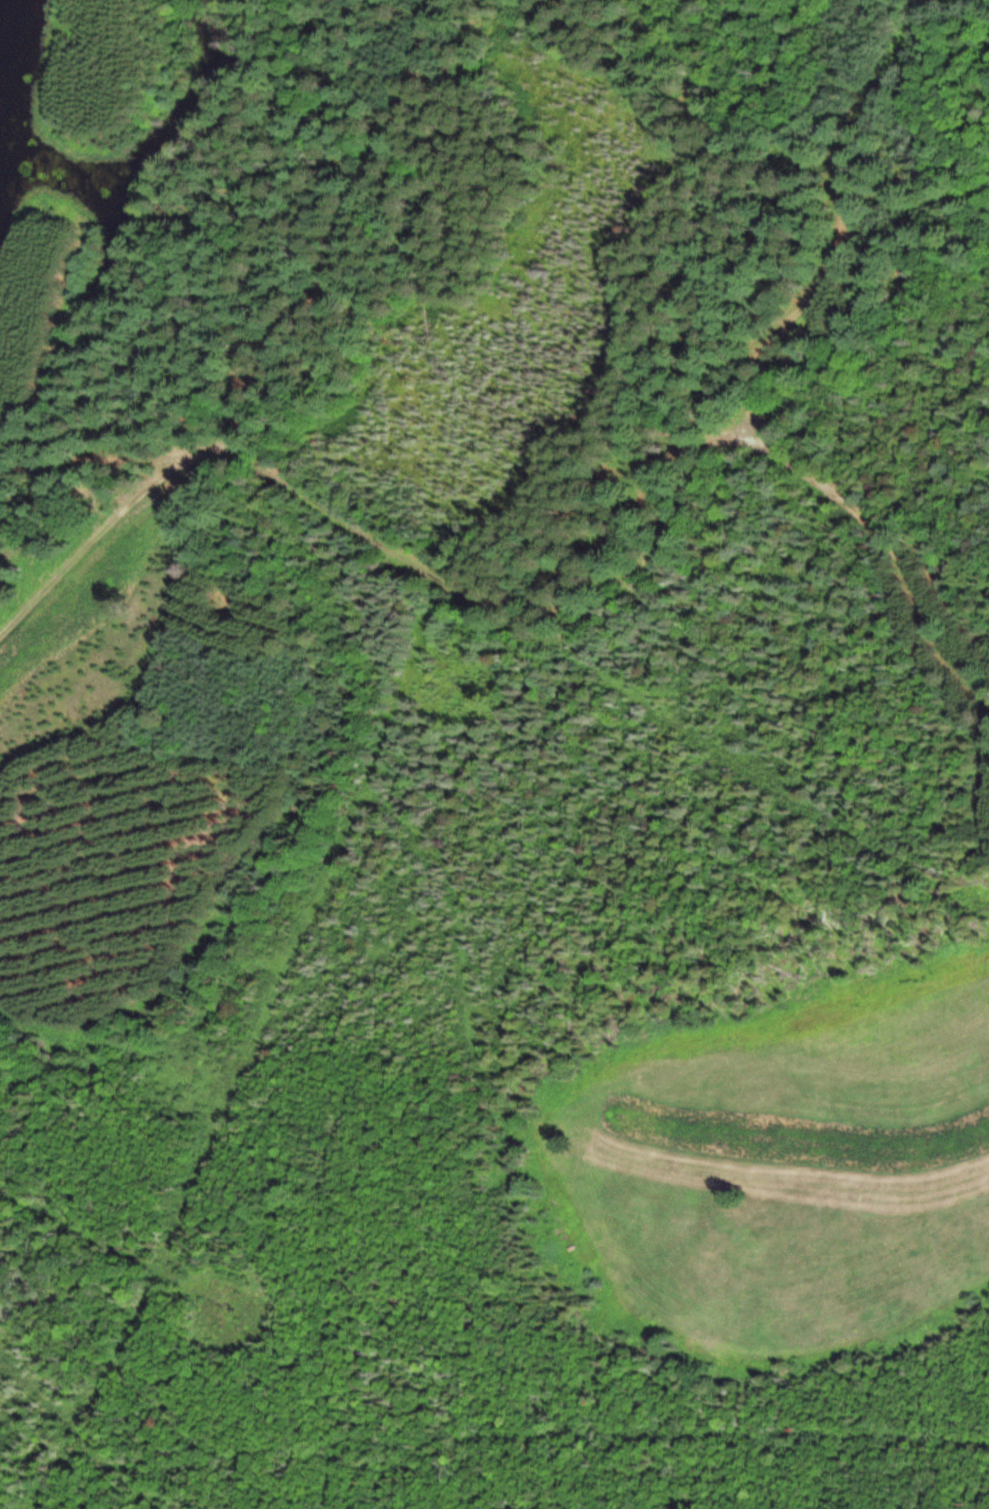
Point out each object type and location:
road: (575, 578)

